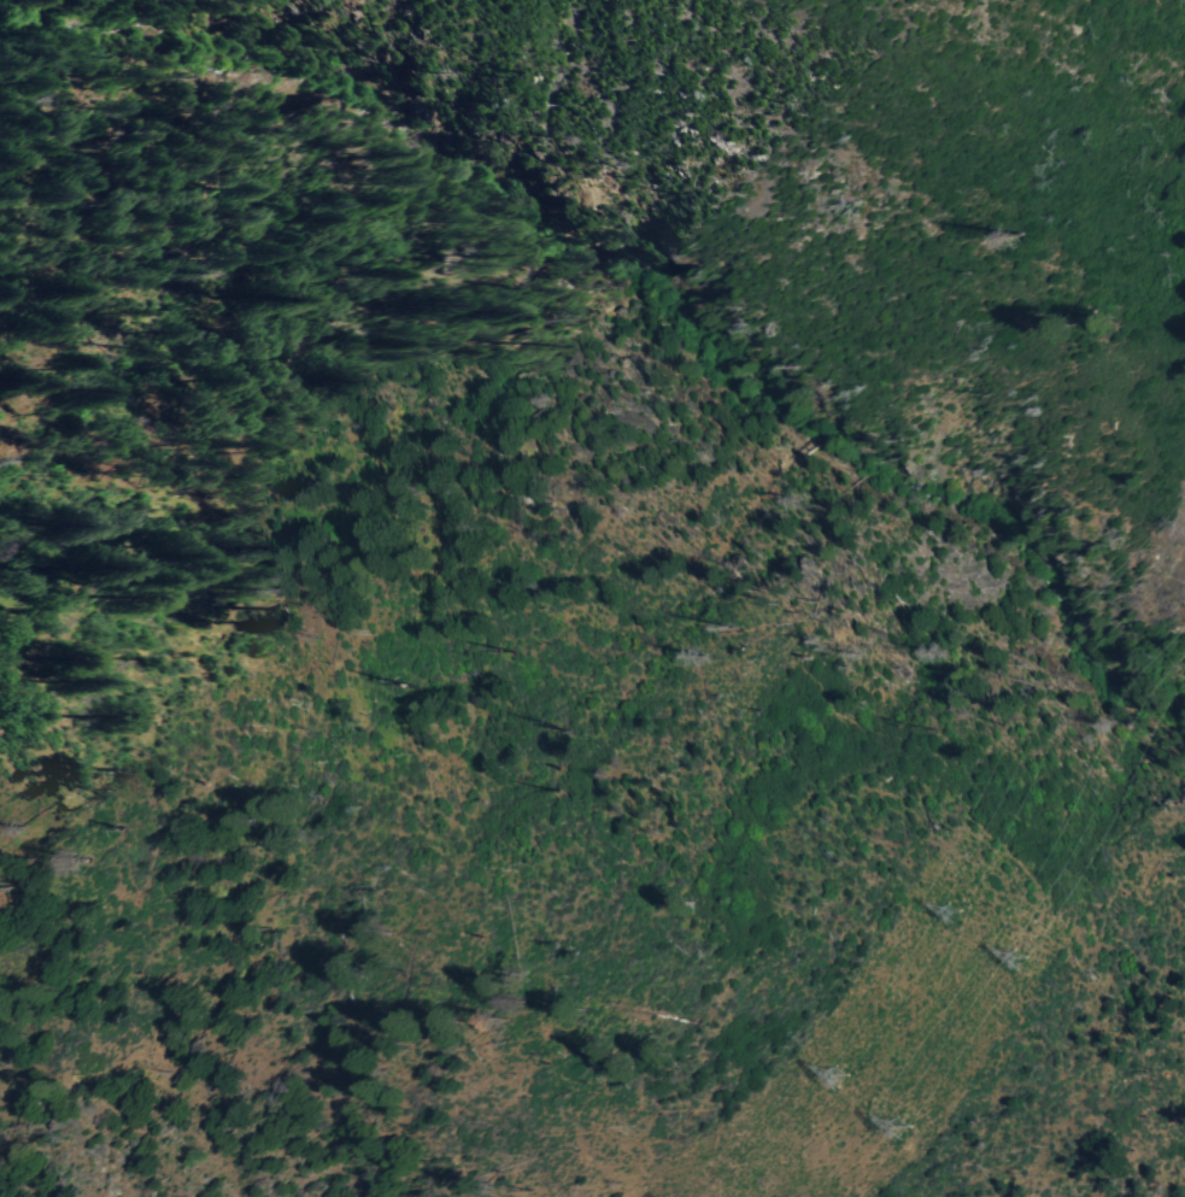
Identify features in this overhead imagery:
power tower: (950, 913)
power tower: (1015, 957)
power tower: (839, 1079)
power tower: (899, 1126)

